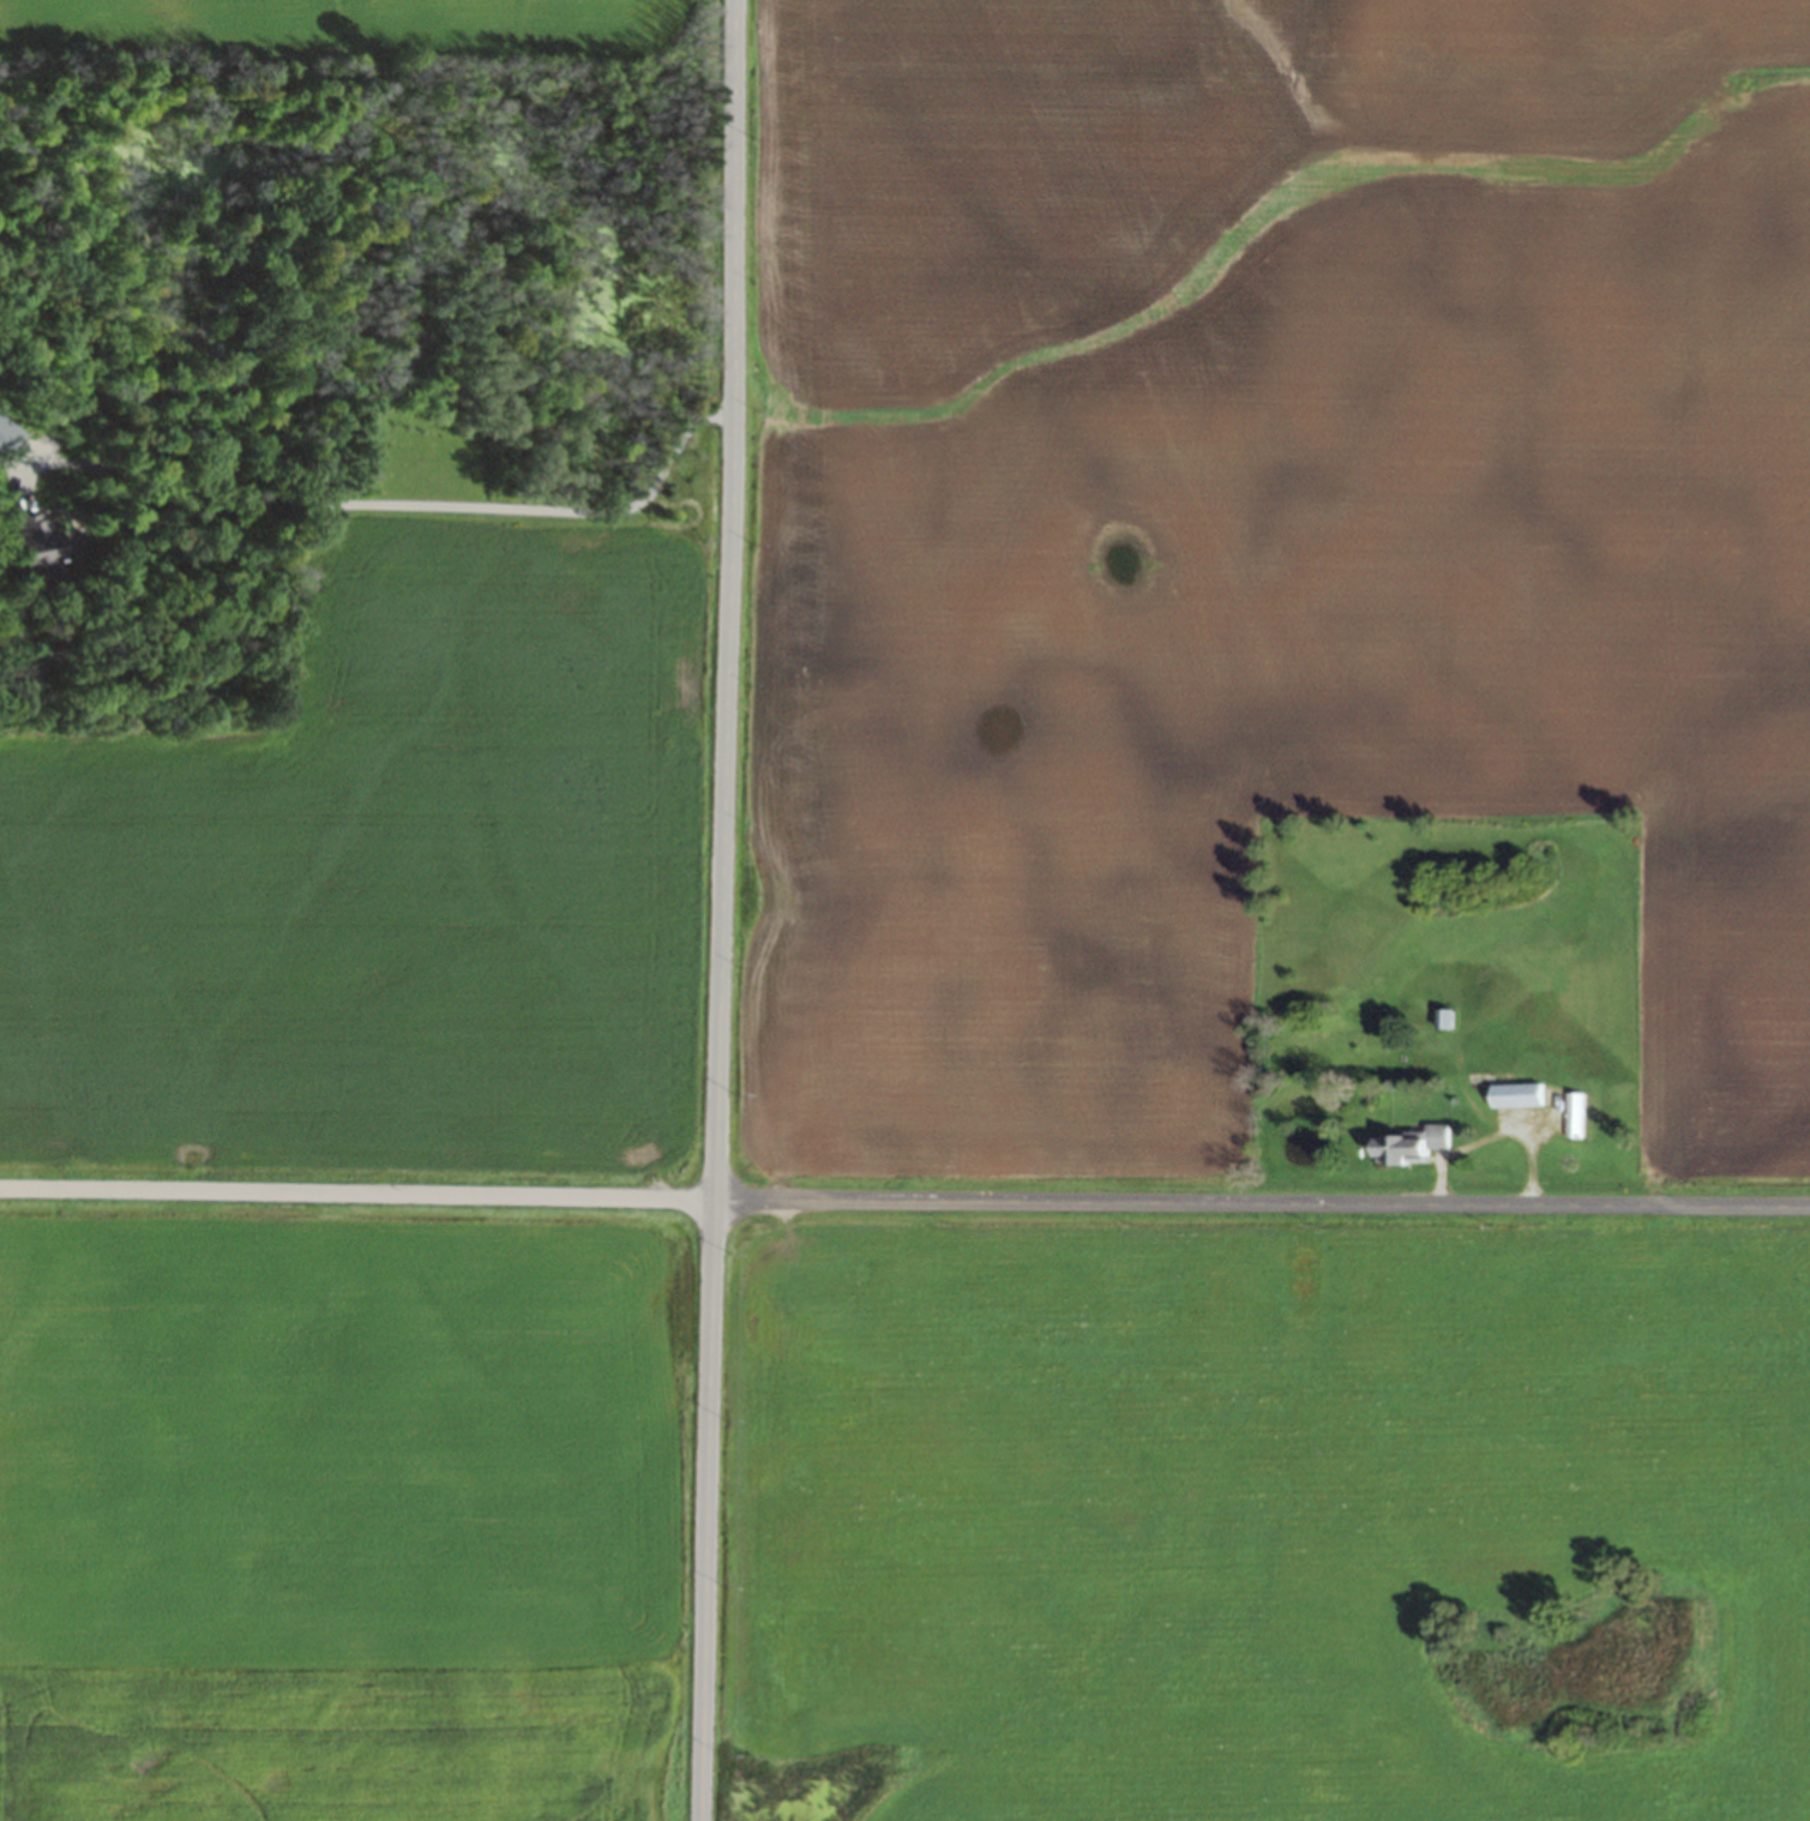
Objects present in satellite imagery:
road: (444, 497)
road: (726, 910)
building: (1442, 1018)
building: (1514, 1095)
building: (1573, 1114)
building: (1403, 1144)
road: (904, 1201)

